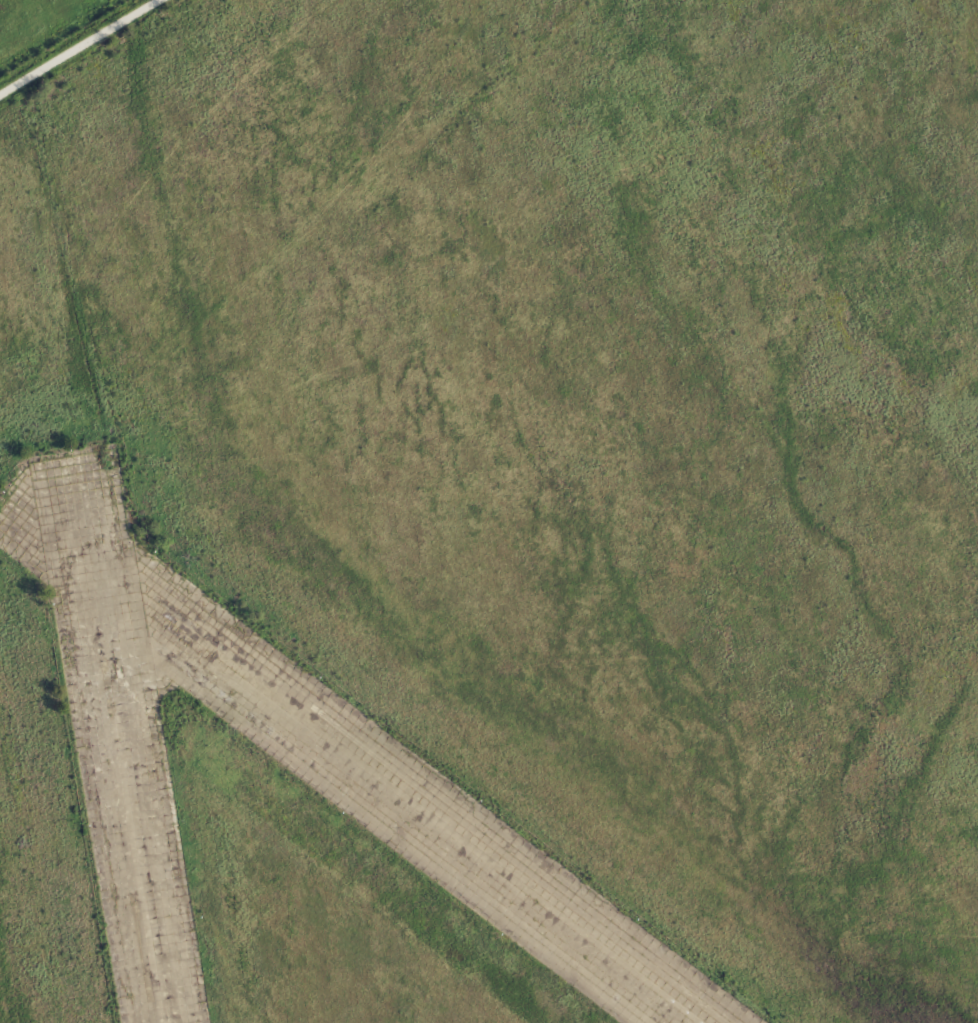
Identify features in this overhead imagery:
road: (82, 49)

